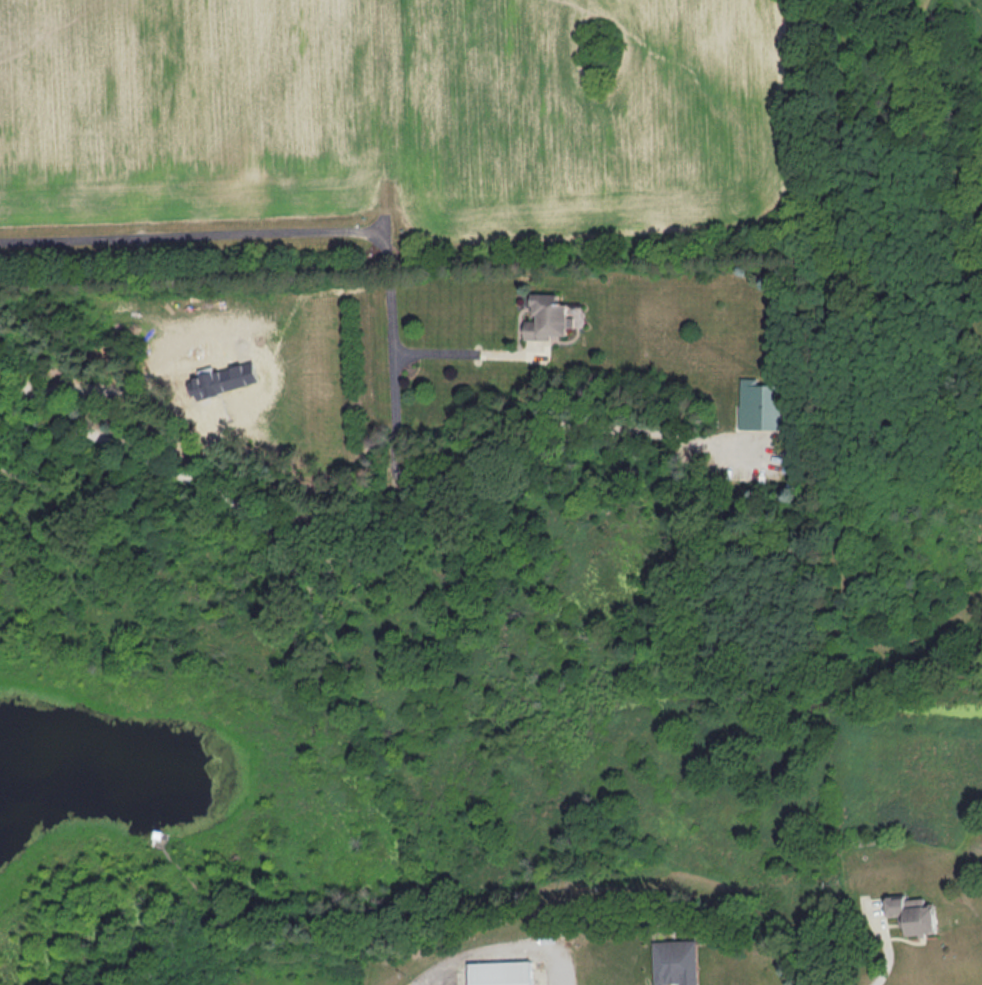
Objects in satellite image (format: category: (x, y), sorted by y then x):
road: (288, 233)
building: (546, 319)
building: (760, 406)
building: (914, 914)
road: (498, 946)
road: (889, 953)
building: (676, 962)
building: (499, 971)

